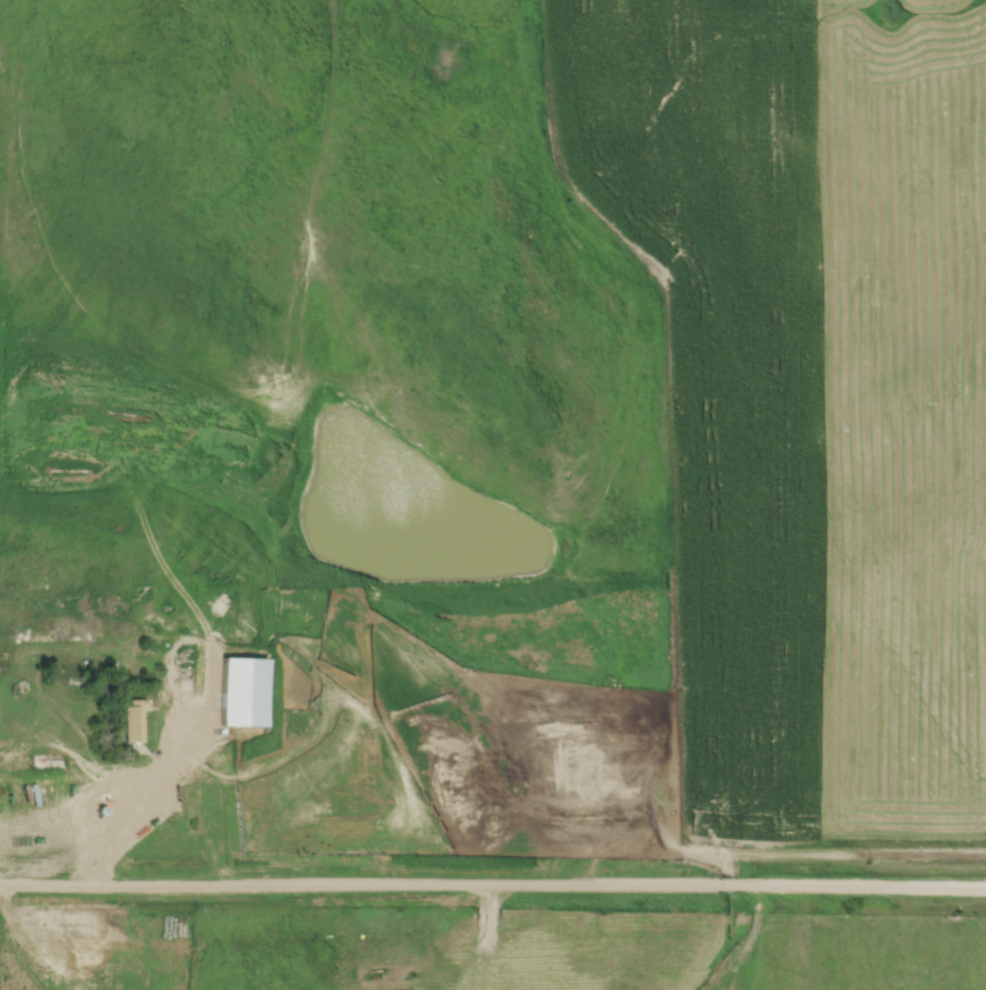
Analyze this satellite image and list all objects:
building: (187, 676)
building: (259, 688)
building: (136, 721)
road: (132, 802)
road: (492, 883)

